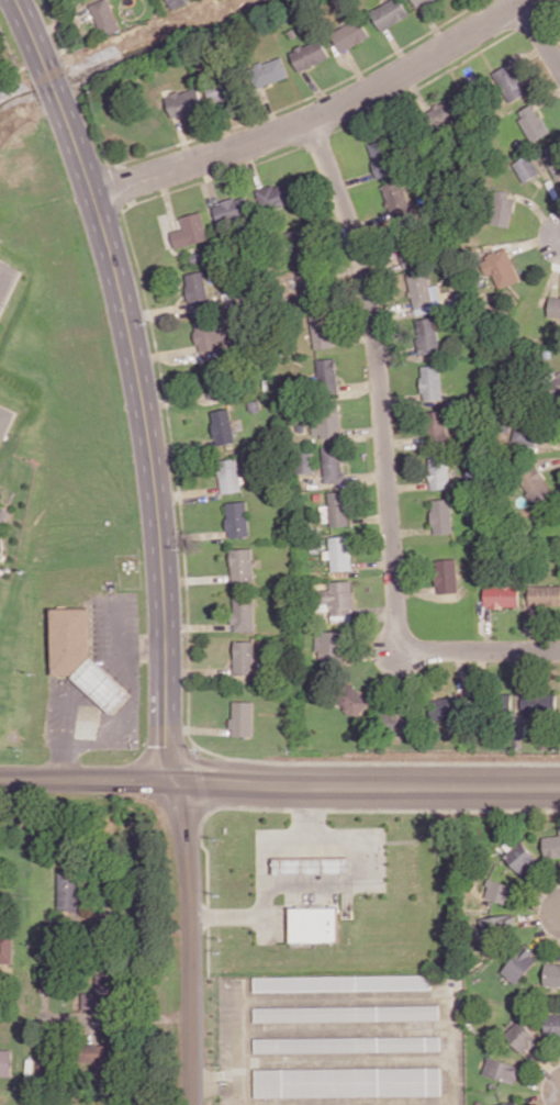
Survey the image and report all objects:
building: (176, 2)
building: (419, 2)
building: (389, 13)
building: (105, 16)
road: (31, 31)
building: (350, 34)
road: (540, 34)
river: (136, 54)
building: (310, 54)
building: (269, 71)
building: (509, 82)
road: (54, 83)
building: (223, 89)
building: (184, 102)
building: (445, 113)
road: (317, 115)
building: (531, 122)
road: (184, 138)
building: (382, 158)
building: (552, 158)
building: (525, 168)
building: (277, 194)
building: (396, 198)
building: (232, 209)
building: (502, 209)
road: (538, 210)
building: (190, 230)
building: (298, 246)
building: (408, 258)
building: (500, 267)
parking lot: (7, 279)
building: (306, 284)
building: (197, 289)
building: (422, 289)
building: (553, 306)
building: (321, 331)
building: (206, 334)
building: (426, 334)
building: (327, 373)
building: (213, 379)
building: (430, 381)
building: (556, 382)
building: (5, 420)
building: (326, 422)
building: (223, 426)
building: (436, 426)
building: (524, 433)
road: (148, 436)
road: (384, 455)
building: (305, 461)
road: (549, 461)
building: (333, 465)
building: (438, 471)
building: (229, 475)
building: (534, 483)
building: (335, 509)
building: (3, 512)
building: (441, 515)
building: (237, 517)
building: (339, 551)
building: (242, 563)
building: (446, 574)
building: (544, 594)
building: (501, 595)
building: (338, 600)
building: (243, 613)
building: (328, 646)
building: (82, 657)
building: (244, 657)
building: (355, 700)
building: (504, 702)
building: (538, 702)
building: (445, 708)
road: (131, 714)
building: (243, 717)
road: (279, 781)
road: (299, 808)
road: (310, 811)
building: (551, 846)
building: (519, 856)
building: (312, 864)
road: (357, 877)
building: (69, 891)
building: (500, 891)
road: (541, 903)
road: (541, 916)
building: (314, 923)
building: (497, 926)
street lamp: (542, 926)
road: (190, 941)
building: (5, 948)
building: (519, 964)
building: (551, 974)
building: (341, 981)
building: (347, 1012)
building: (552, 1025)
building: (522, 1036)
road: (232, 1041)
building: (348, 1042)
building: (97, 1056)
building: (5, 1060)
road: (547, 1064)
building: (501, 1069)
road: (212, 1080)
road: (544, 1080)
building: (348, 1081)
road: (542, 1096)
building: (508, 1103)
road: (559, 1104)

